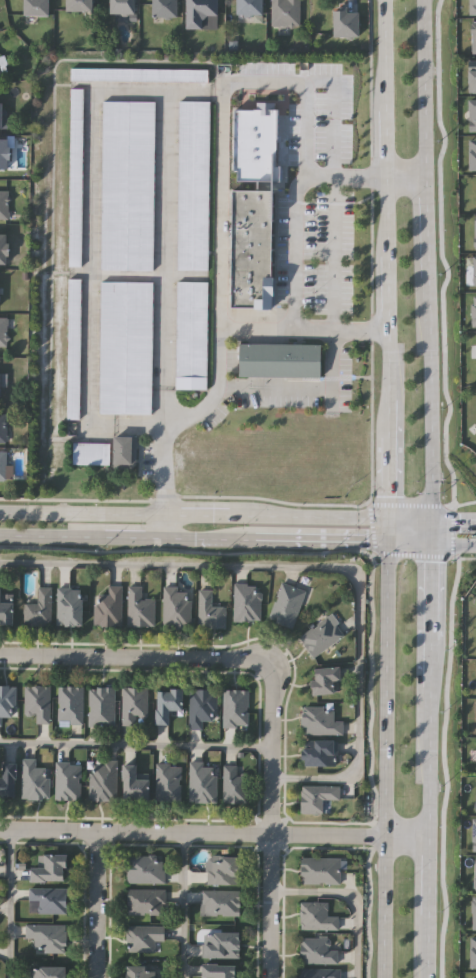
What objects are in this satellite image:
building: (471, 4)
building: (78, 6)
building: (121, 7)
building: (35, 8)
building: (164, 8)
building: (248, 8)
building: (286, 13)
building: (201, 15)
building: (345, 23)
building: (472, 35)
building: (2, 68)
building: (139, 74)
building: (472, 74)
road: (424, 88)
building: (472, 113)
building: (0, 117)
road: (216, 131)
building: (473, 151)
building: (3, 155)
building: (76, 177)
road: (383, 177)
building: (128, 185)
building: (193, 185)
building: (474, 191)
road: (382, 195)
building: (4, 205)
building: (475, 229)
road: (167, 230)
road: (426, 237)
building: (2, 249)
building: (250, 250)
road: (89, 253)
road: (292, 253)
building: (475, 269)
road: (337, 282)
building: (474, 309)
road: (298, 330)
building: (3, 332)
building: (192, 335)
building: (126, 347)
building: (474, 348)
building: (74, 349)
building: (280, 359)
road: (427, 408)
road: (199, 412)
building: (3, 428)
building: (125, 451)
building: (91, 452)
road: (383, 454)
building: (3, 466)
road: (191, 513)
traffic signals: (384, 518)
road: (406, 518)
traffic signals: (428, 519)
road: (451, 520)
road: (383, 531)
road: (428, 532)
road: (52, 538)
road: (134, 540)
road: (209, 541)
road: (319, 543)
traffic signals: (383, 545)
road: (405, 545)
traffic signals: (428, 546)
road: (452, 546)
road: (317, 567)
building: (247, 601)
building: (288, 604)
building: (69, 606)
building: (108, 606)
building: (175, 606)
building: (140, 607)
building: (39, 608)
building: (6, 610)
building: (209, 610)
road: (428, 618)
building: (321, 635)
building: (474, 637)
road: (133, 656)
building: (323, 678)
building: (7, 701)
building: (38, 702)
building: (166, 702)
building: (133, 703)
building: (70, 704)
building: (202, 705)
building: (101, 706)
building: (235, 707)
building: (320, 719)
road: (136, 743)
building: (319, 751)
road: (384, 761)
road: (428, 764)
building: (7, 778)
building: (34, 779)
building: (68, 780)
building: (103, 780)
building: (168, 782)
building: (203, 782)
building: (235, 782)
building: (133, 783)
building: (475, 793)
building: (316, 796)
road: (271, 821)
road: (214, 830)
building: (474, 836)
building: (48, 867)
building: (145, 868)
building: (224, 868)
building: (320, 869)
building: (474, 874)
road: (428, 890)
building: (48, 898)
road: (350, 899)
road: (7, 900)
road: (94, 901)
building: (146, 901)
building: (220, 901)
road: (183, 903)
building: (316, 915)
building: (475, 915)
building: (47, 936)
building: (142, 936)
building: (220, 942)
building: (317, 949)
building: (474, 954)
road: (427, 960)
building: (218, 969)
building: (45, 971)
building: (140, 971)
building: (320, 972)
building: (474, 977)

